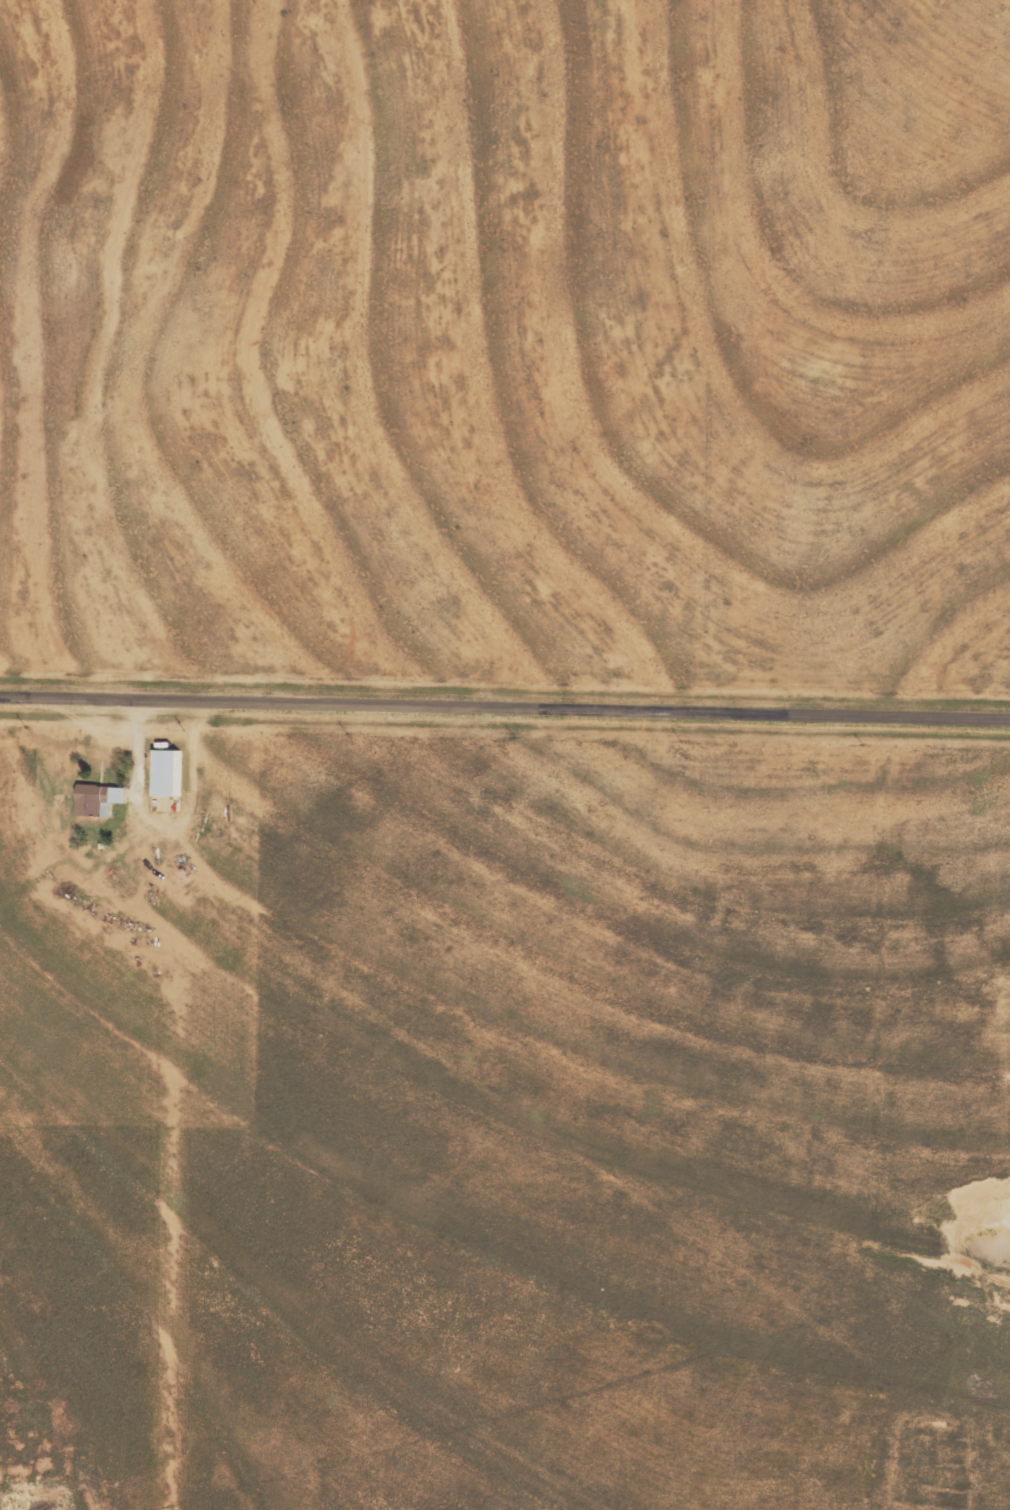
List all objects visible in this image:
road: (505, 704)
building: (166, 772)
building: (98, 798)

